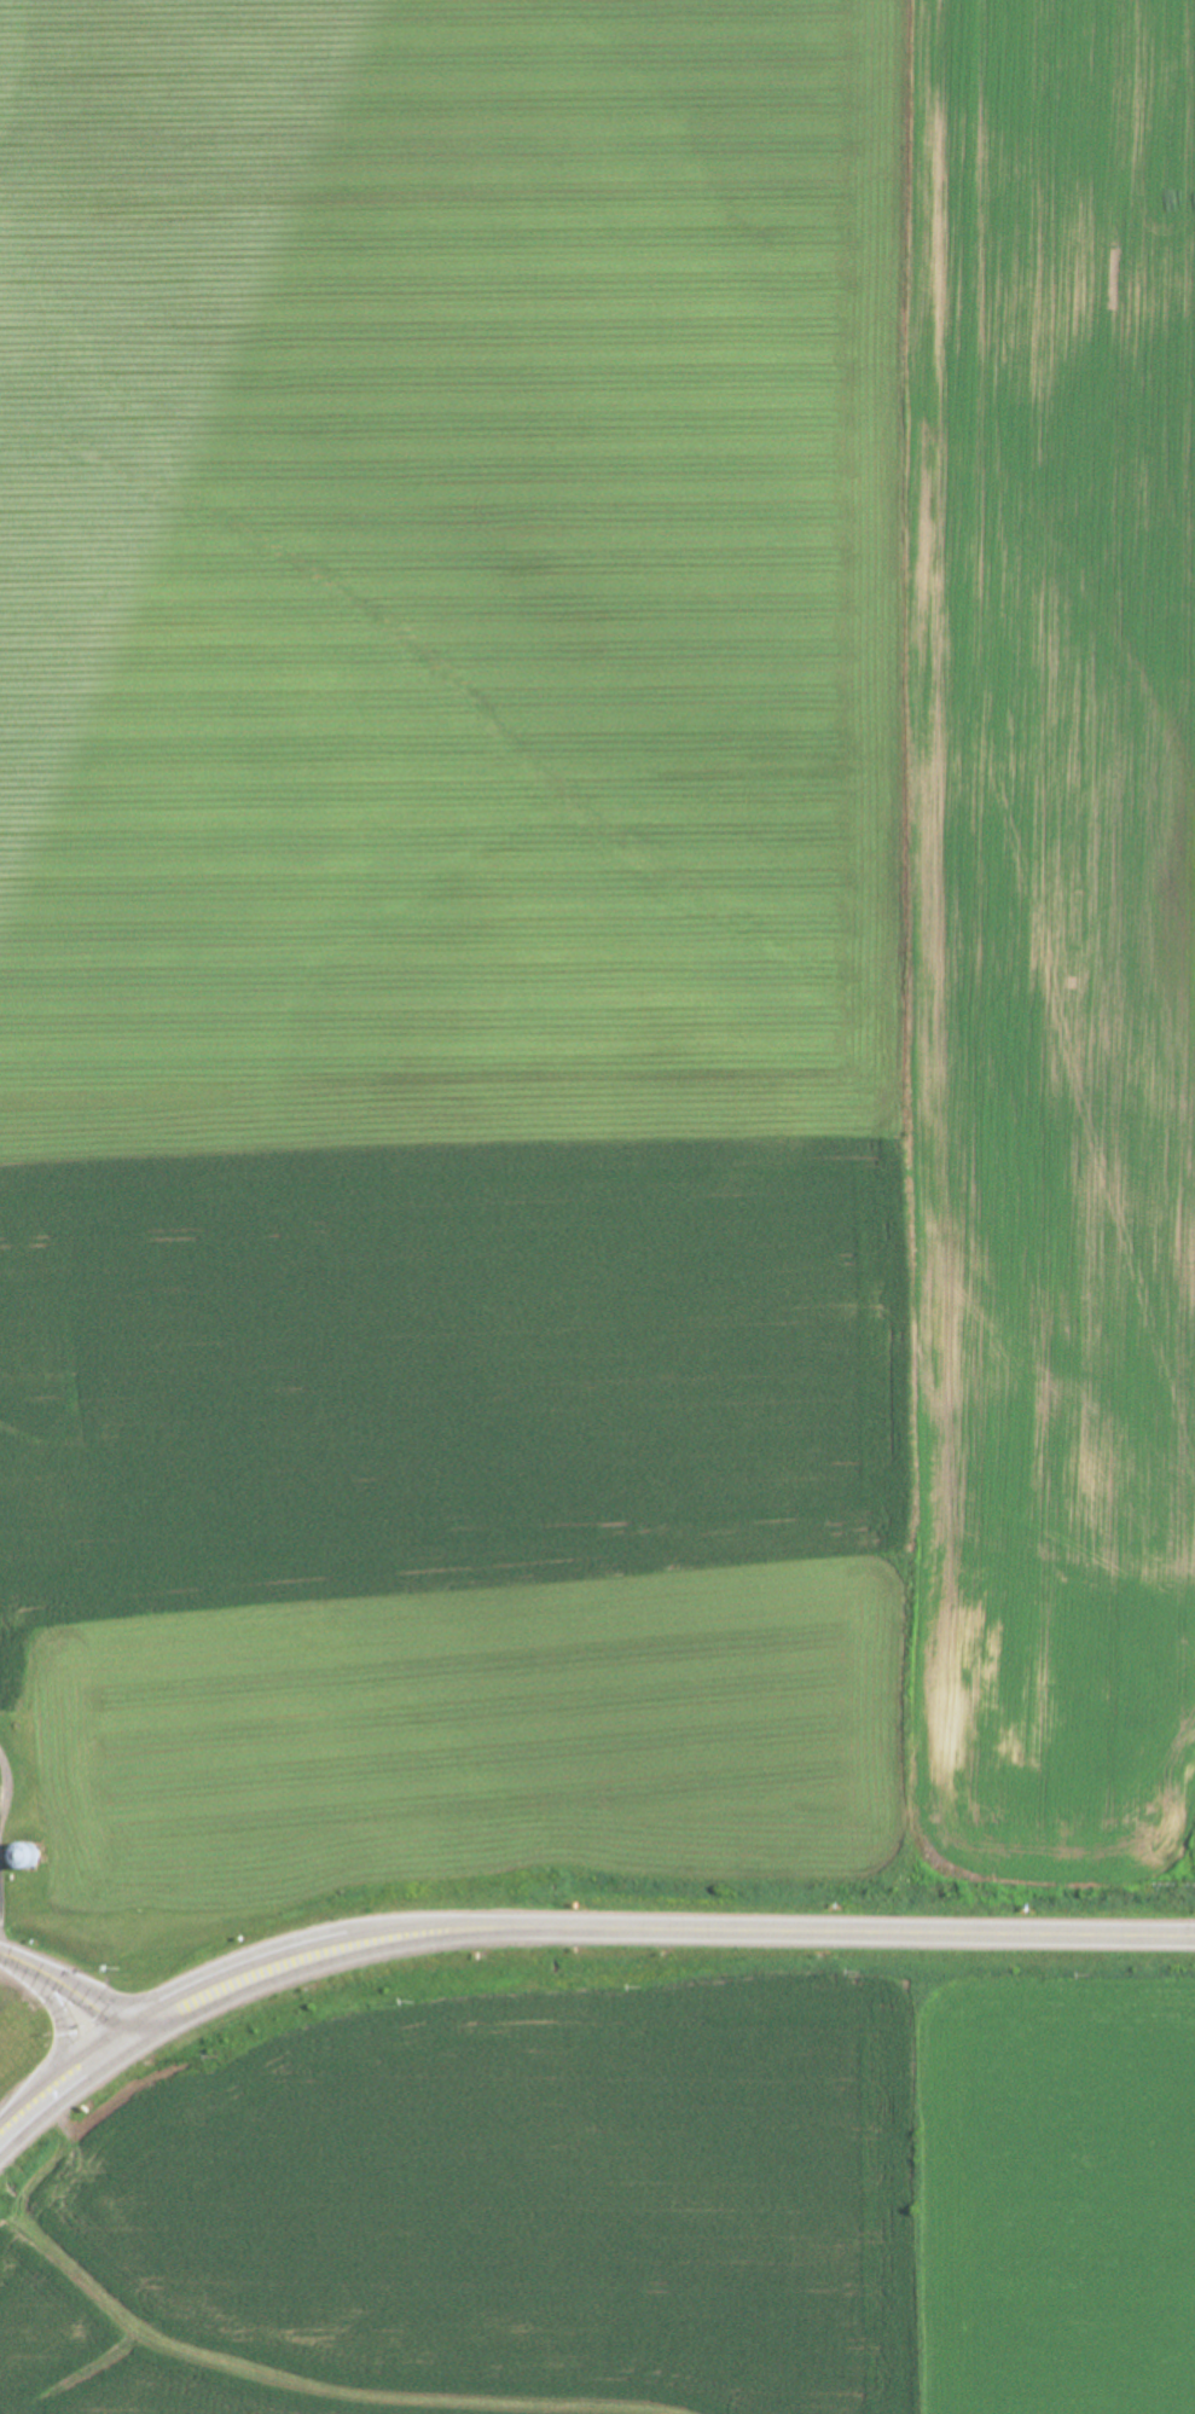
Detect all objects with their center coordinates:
building: (19, 1858)
road: (649, 1928)
road: (64, 1990)
road: (59, 2081)

